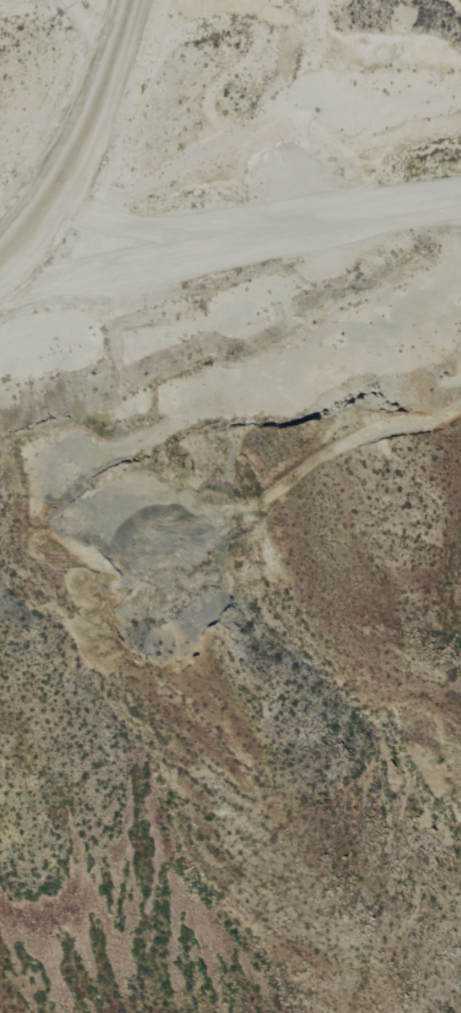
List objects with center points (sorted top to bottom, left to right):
road: (90, 23)
road: (70, 152)
road: (227, 235)
road: (0, 299)

